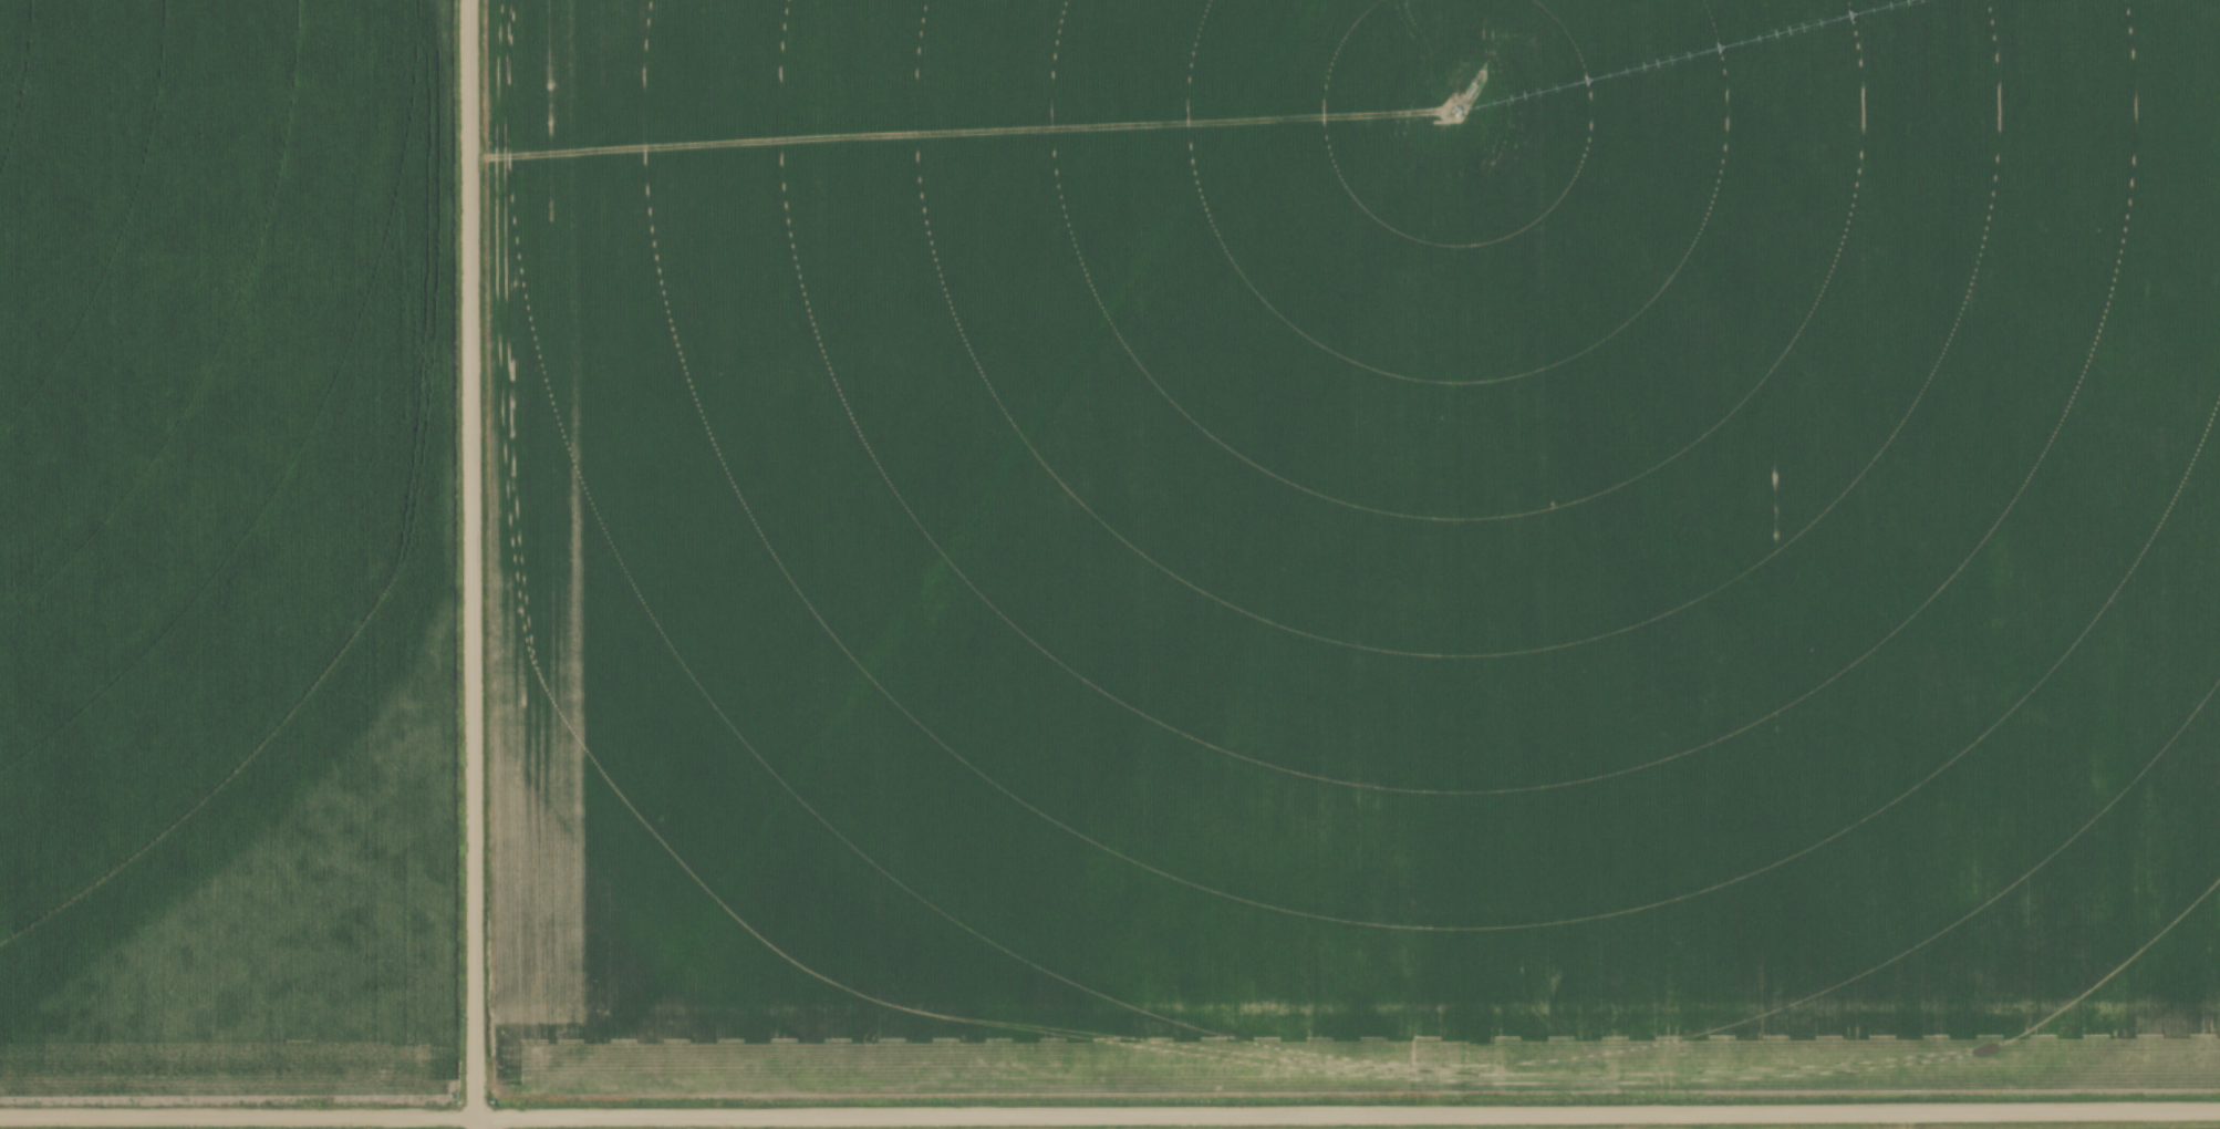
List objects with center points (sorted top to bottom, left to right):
road: (469, 564)
road: (1110, 1117)

